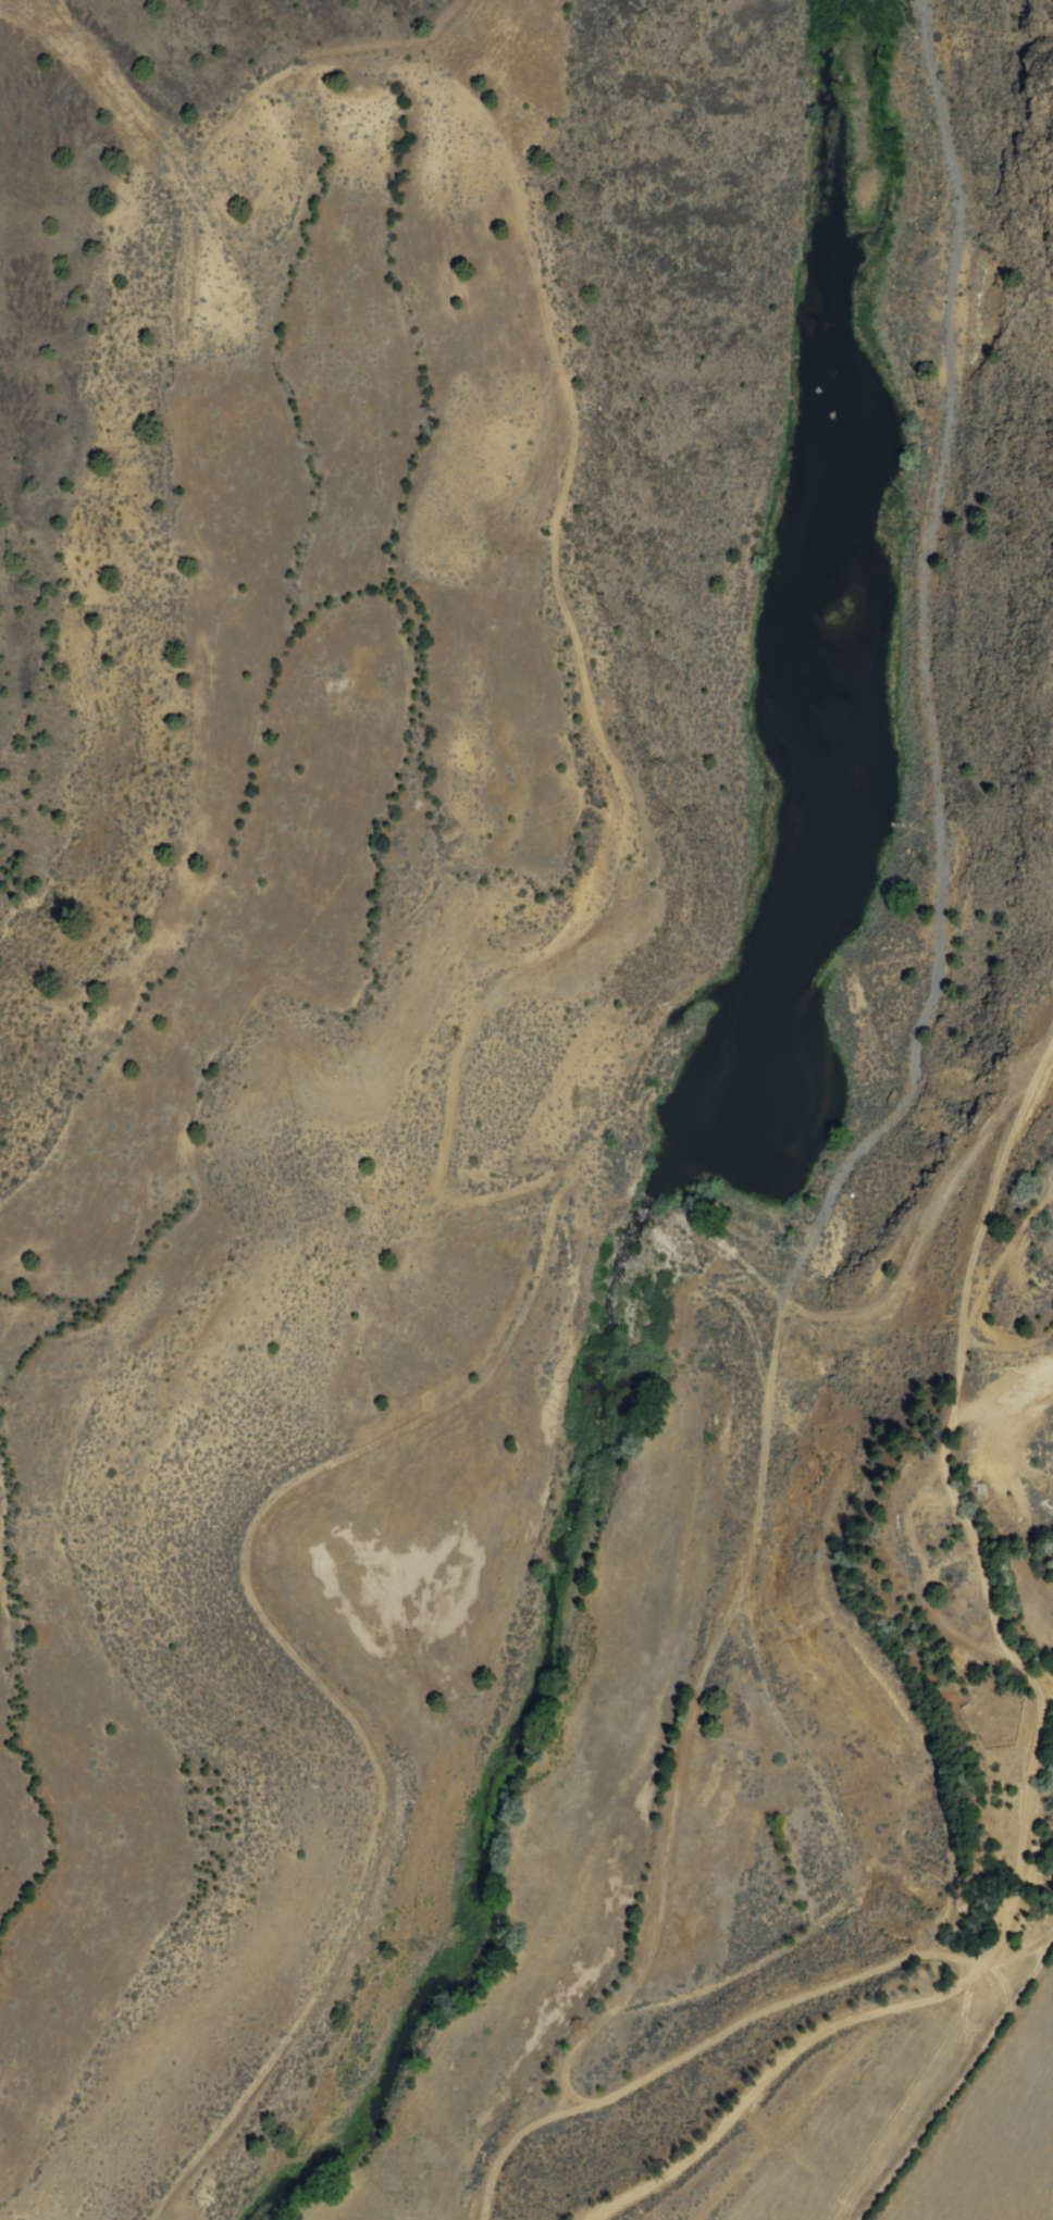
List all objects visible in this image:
airport taxiway: (1027, 1387)
road: (1015, 1646)

